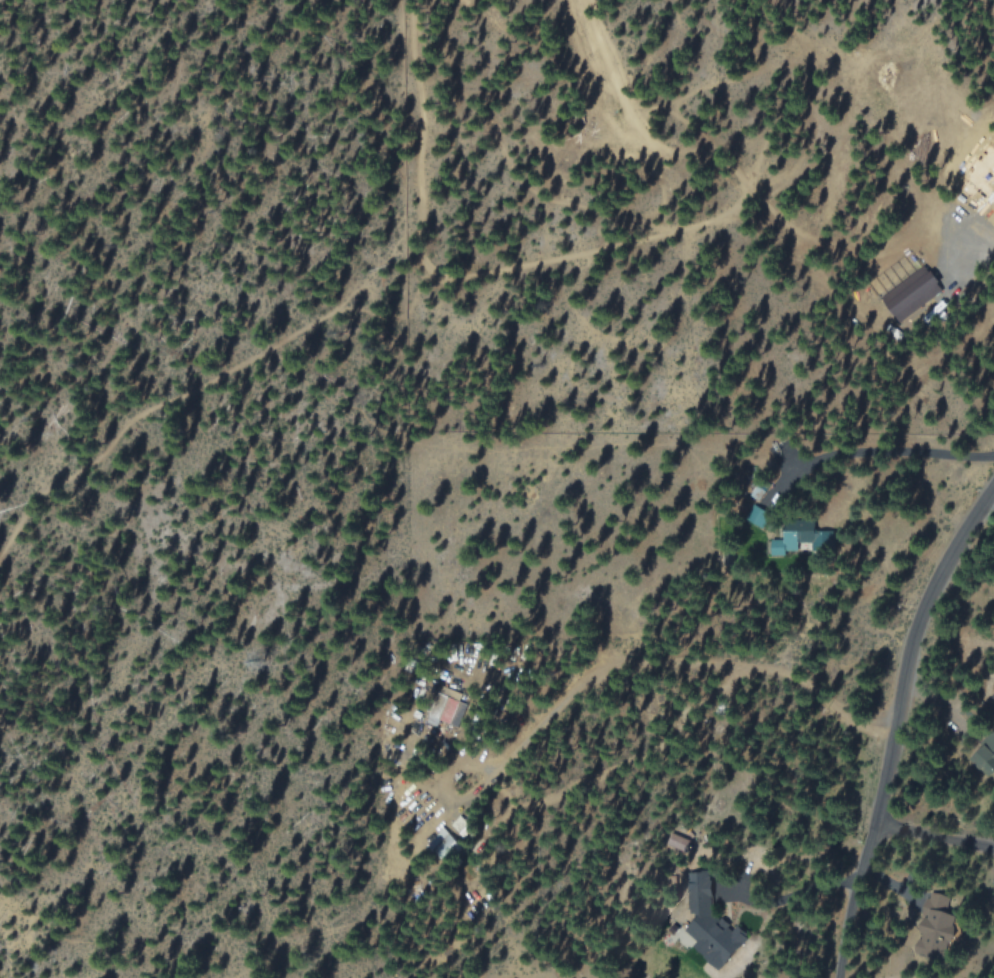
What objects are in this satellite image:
road: (476, 284)
building: (899, 295)
building: (758, 516)
building: (794, 542)
building: (443, 706)
road: (895, 724)
building: (986, 759)
road: (933, 836)
building: (443, 846)
building: (712, 924)

